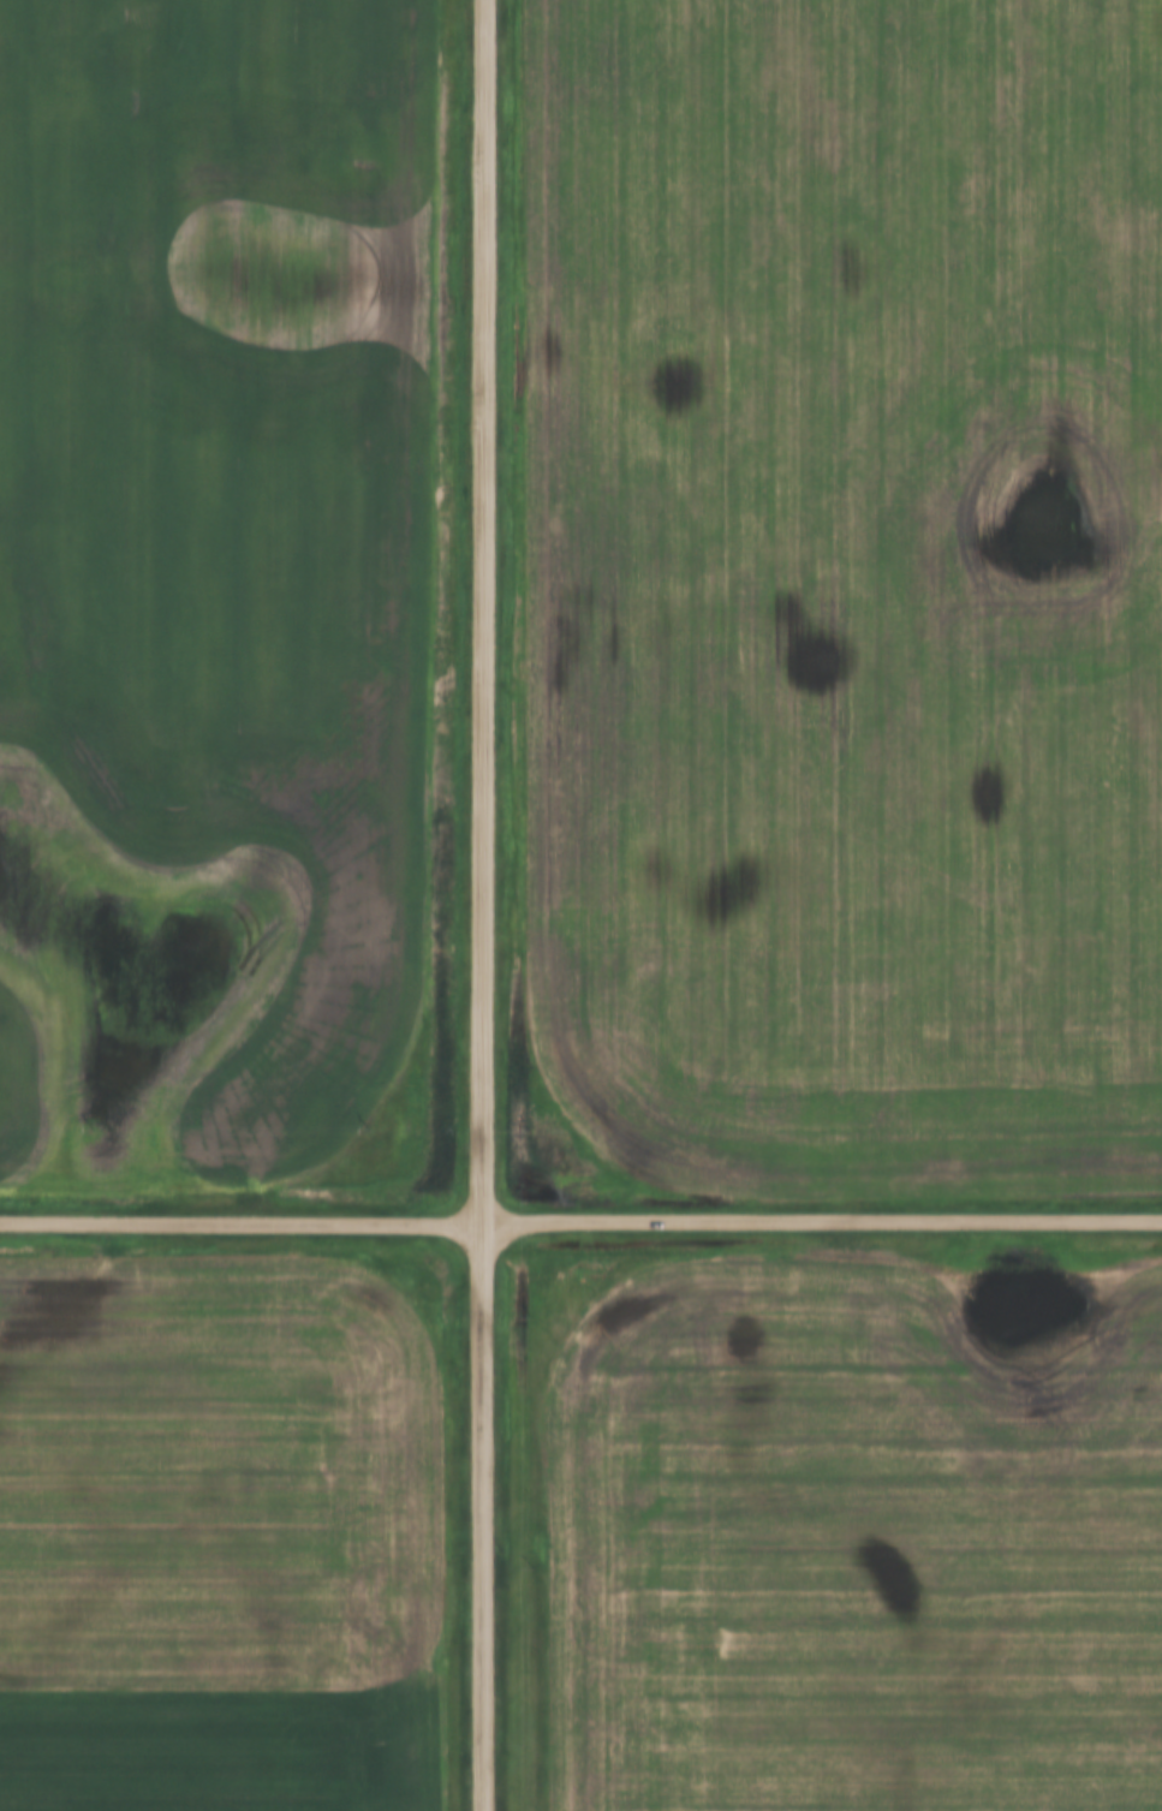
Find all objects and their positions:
road: (482, 905)
road: (580, 1219)

